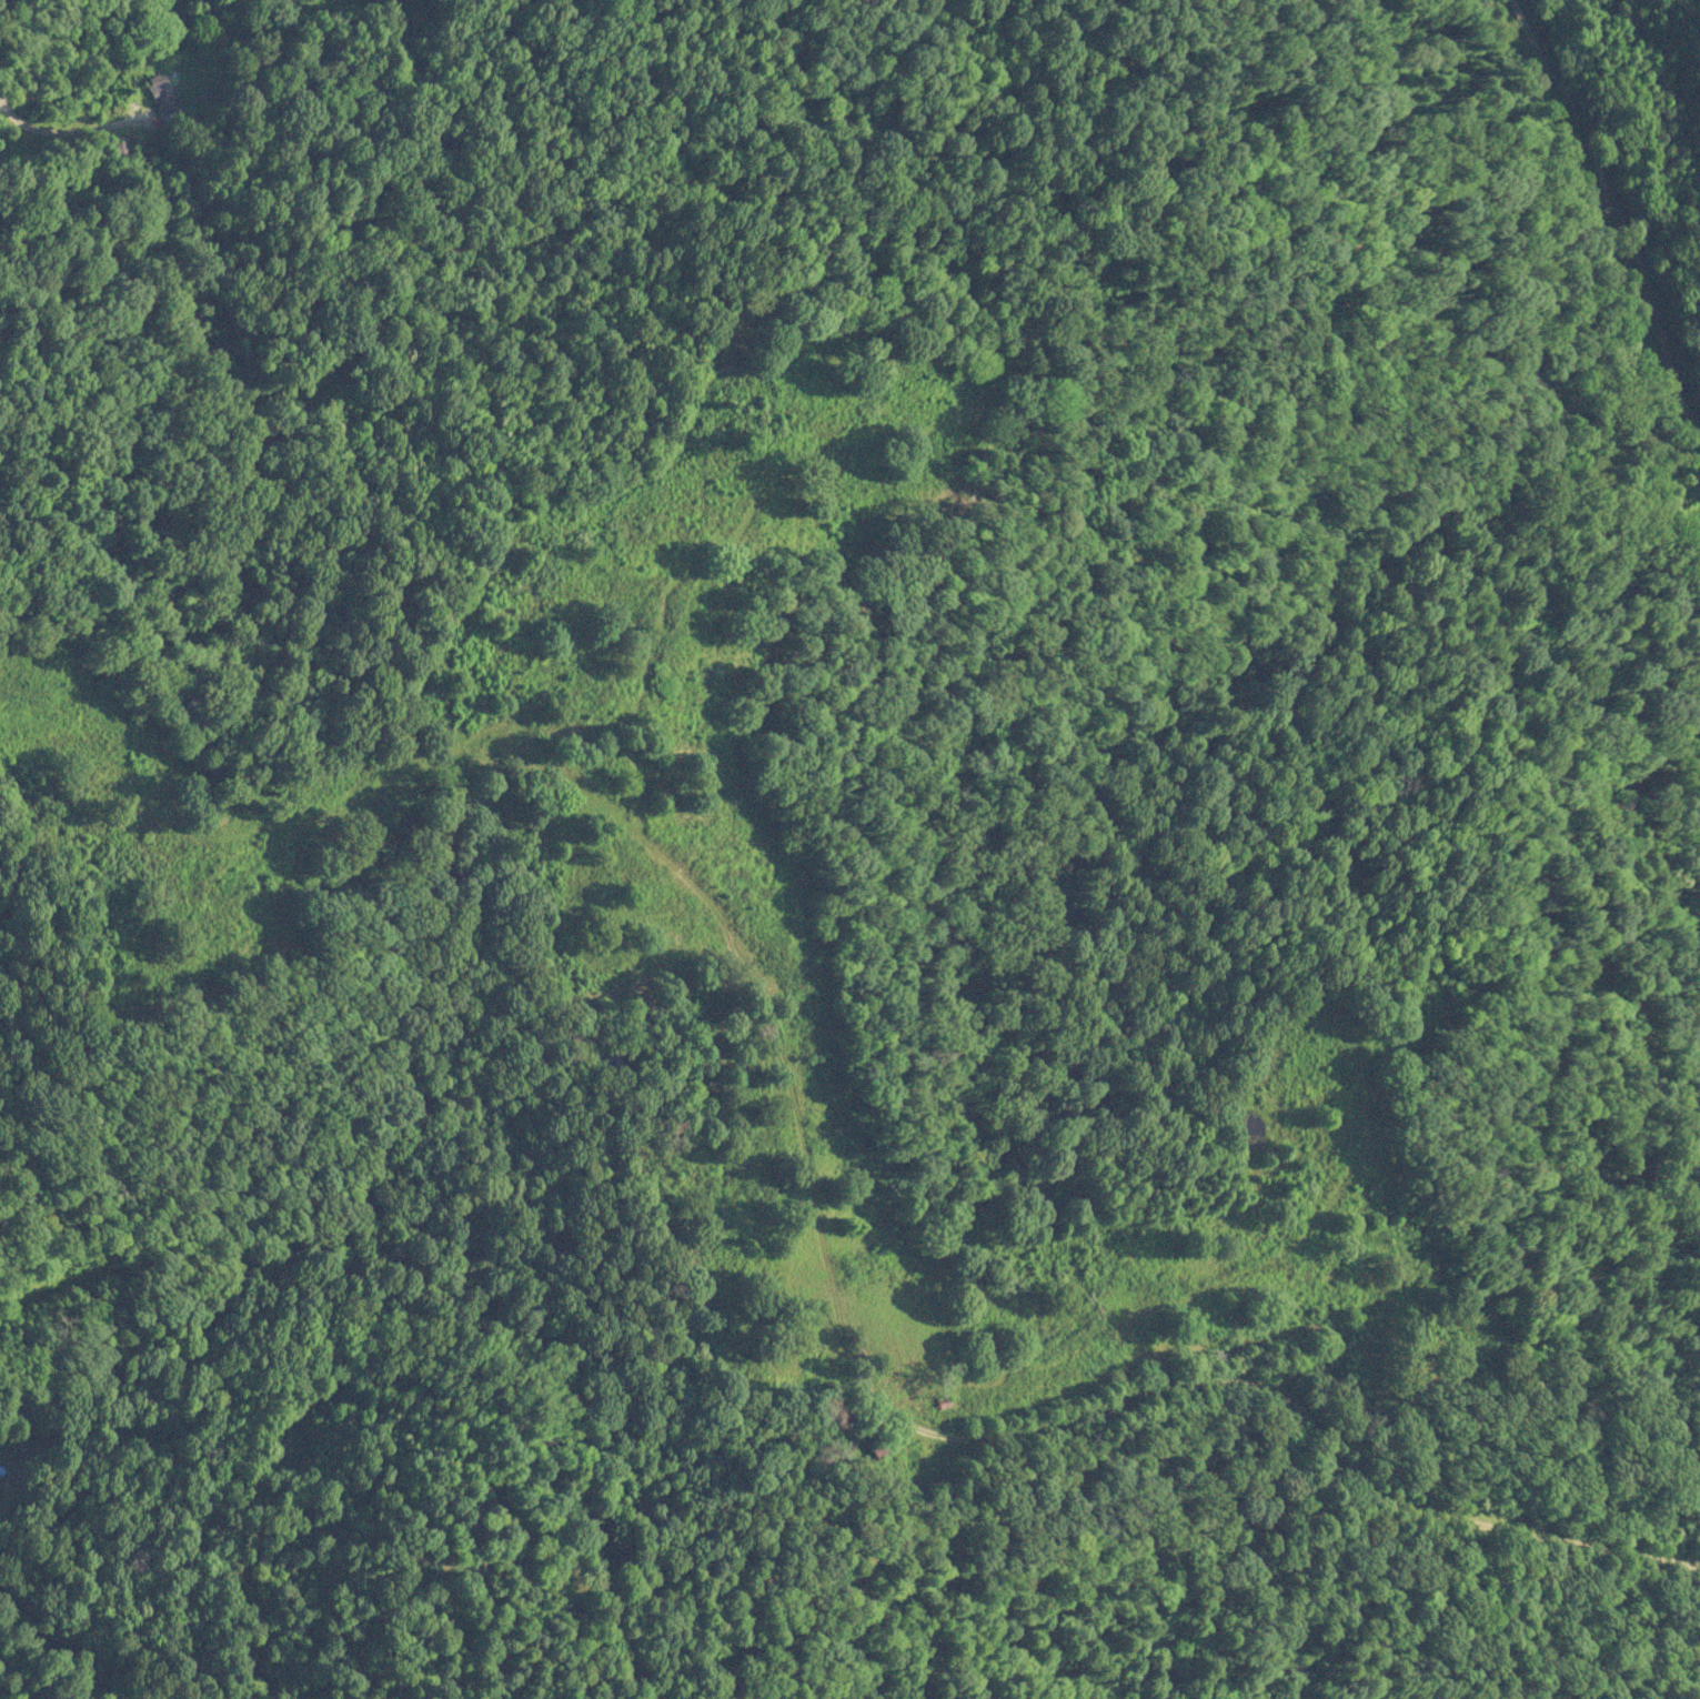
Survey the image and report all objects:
road: (56, 48)
road: (1617, 212)

